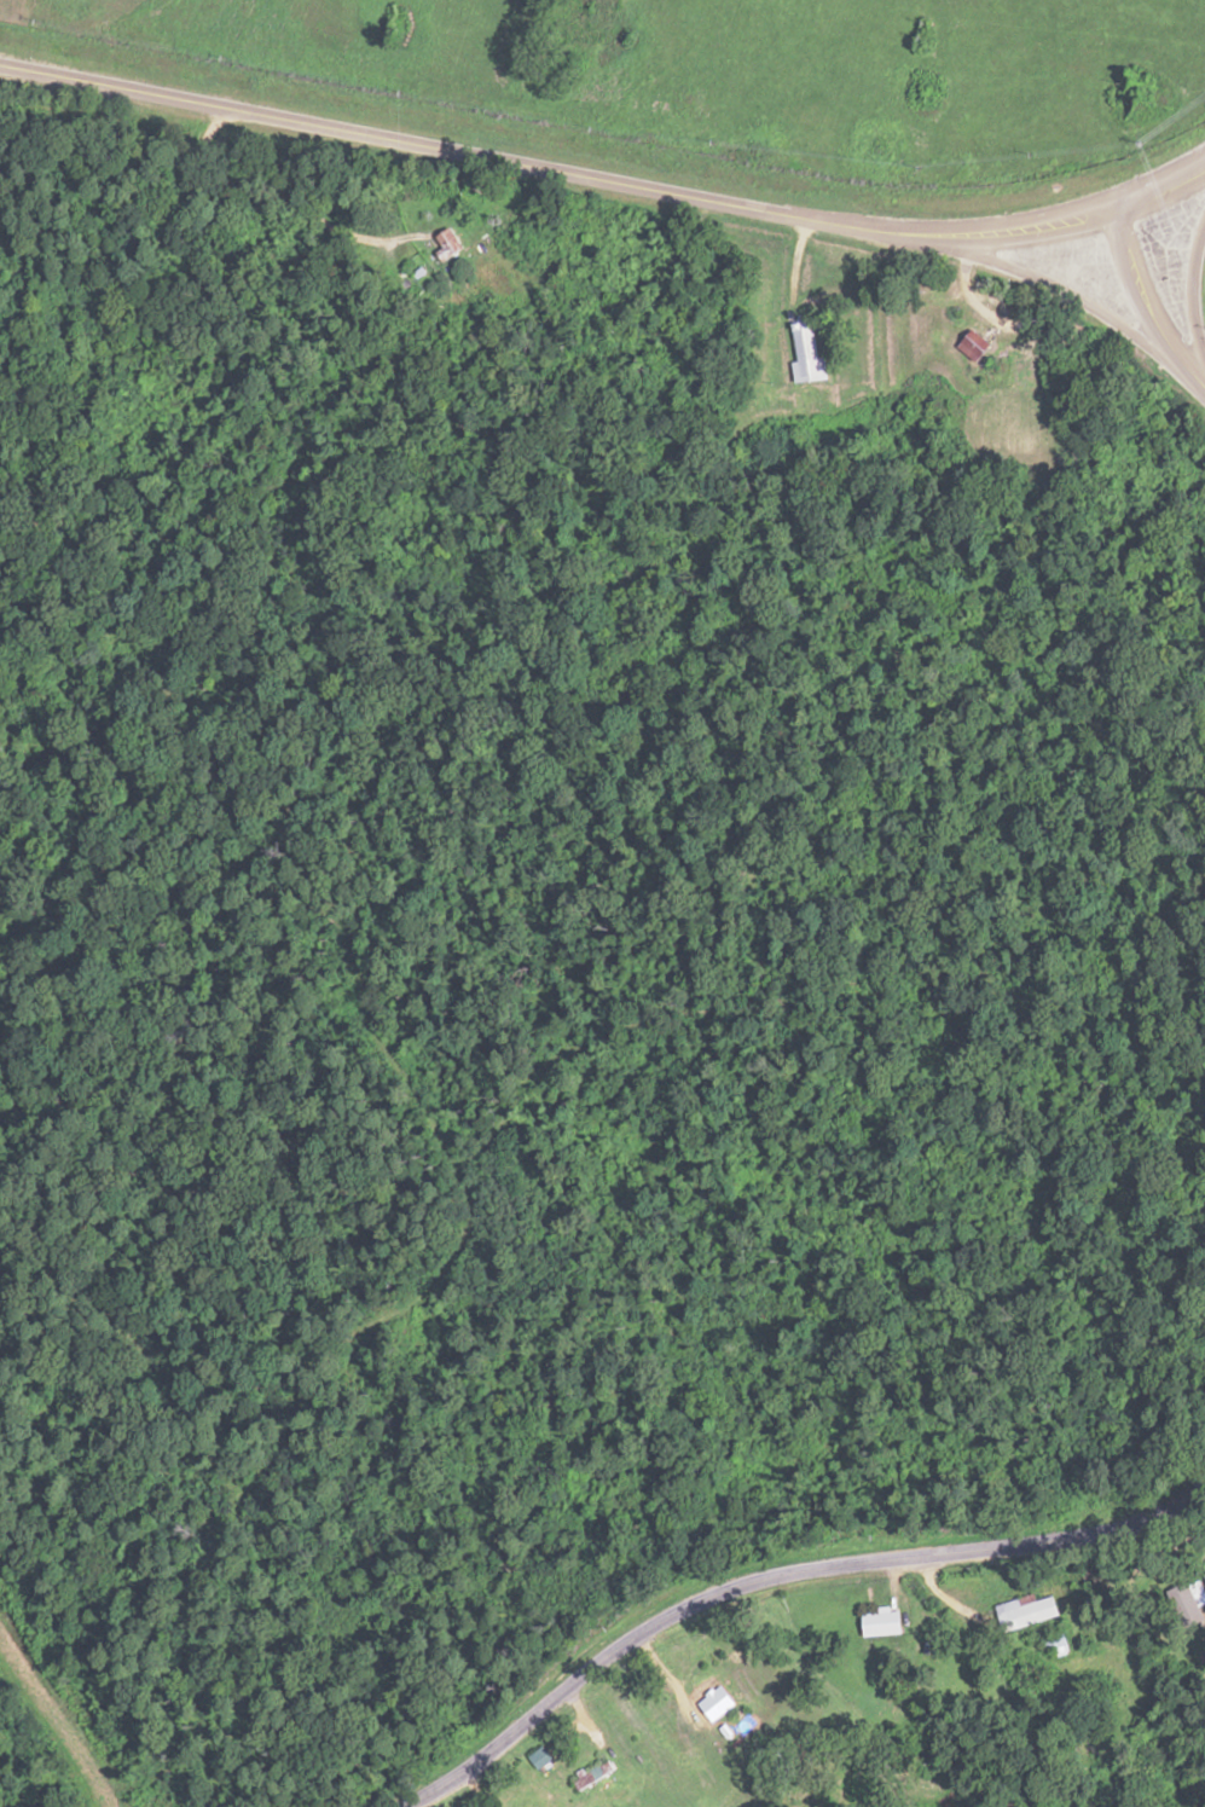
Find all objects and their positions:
road: (245, 141)
road: (226, 161)
road: (606, 185)
building: (452, 244)
road: (1187, 312)
road: (1143, 315)
building: (973, 347)
building: (806, 354)
road: (714, 1536)
building: (1189, 1598)
building: (1030, 1612)
building: (882, 1622)
road: (1177, 1773)

